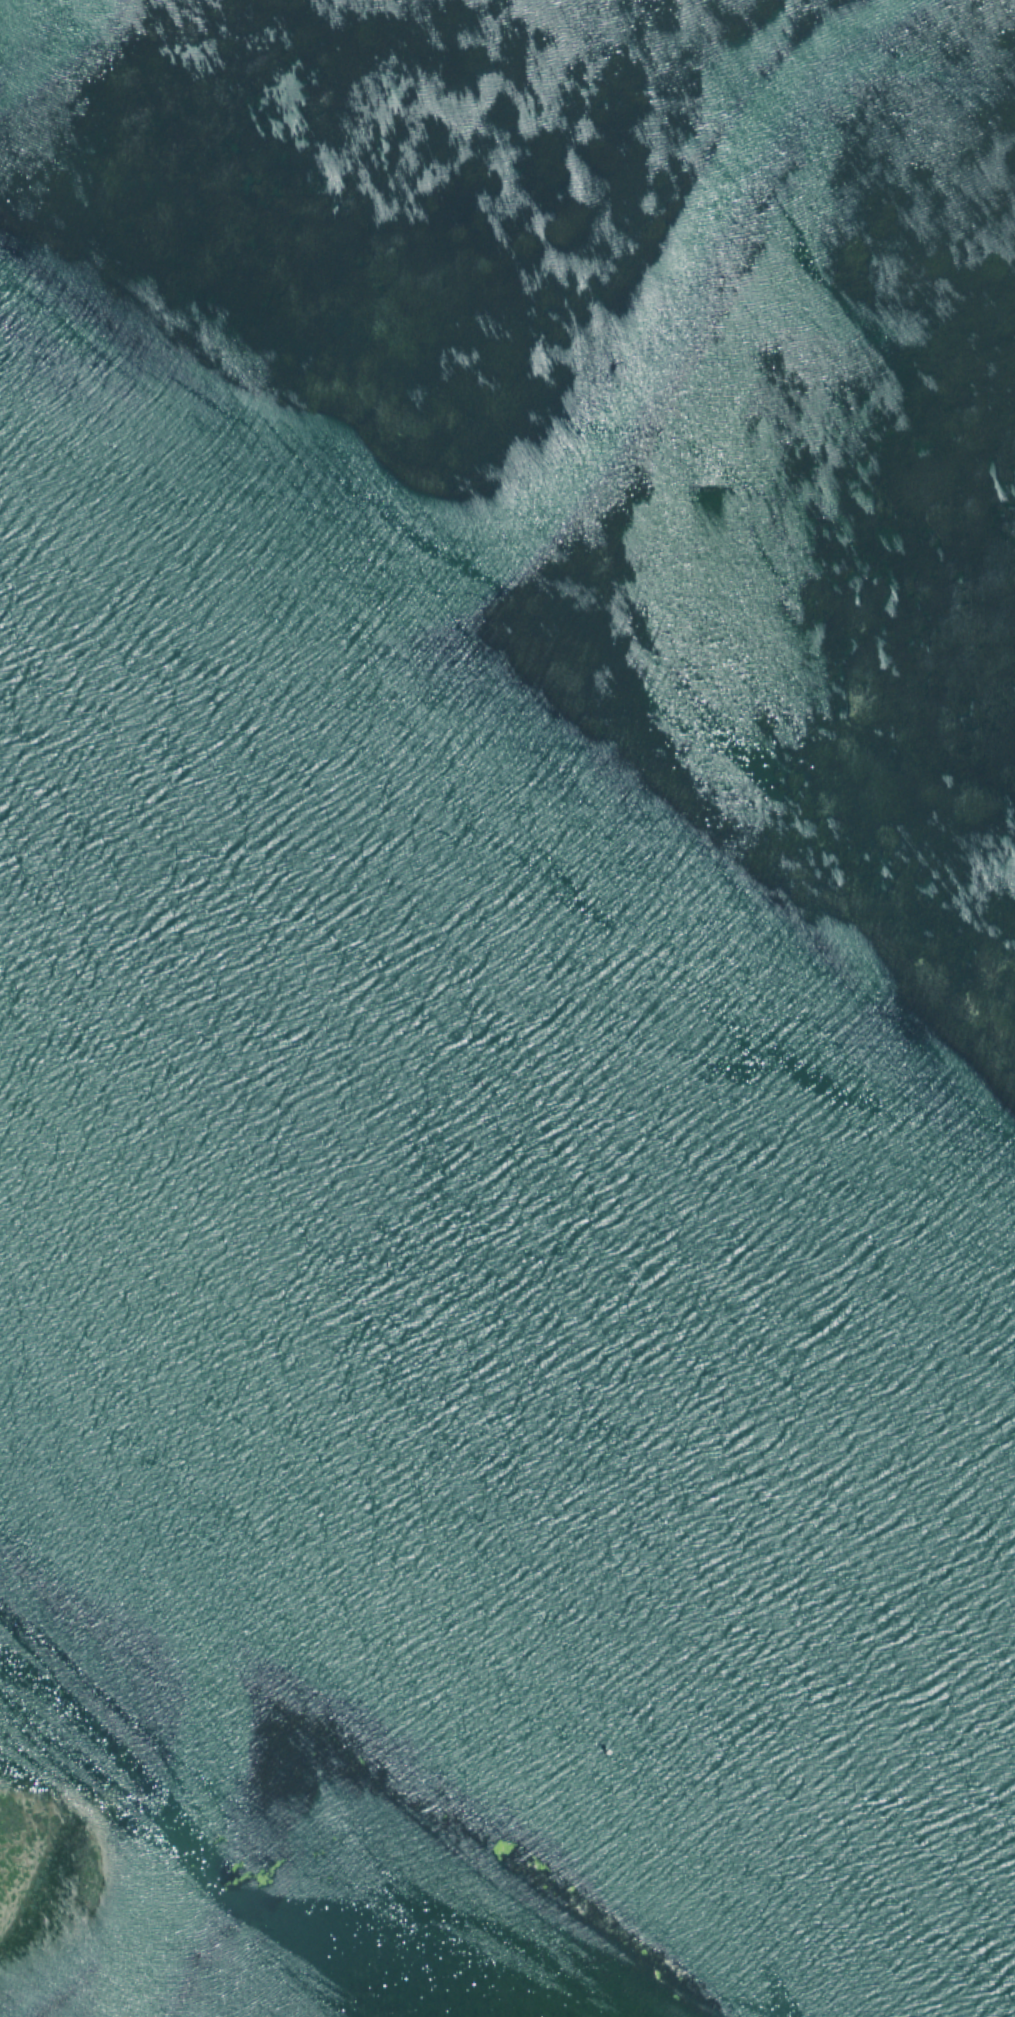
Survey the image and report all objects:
river: (522, 1373)

